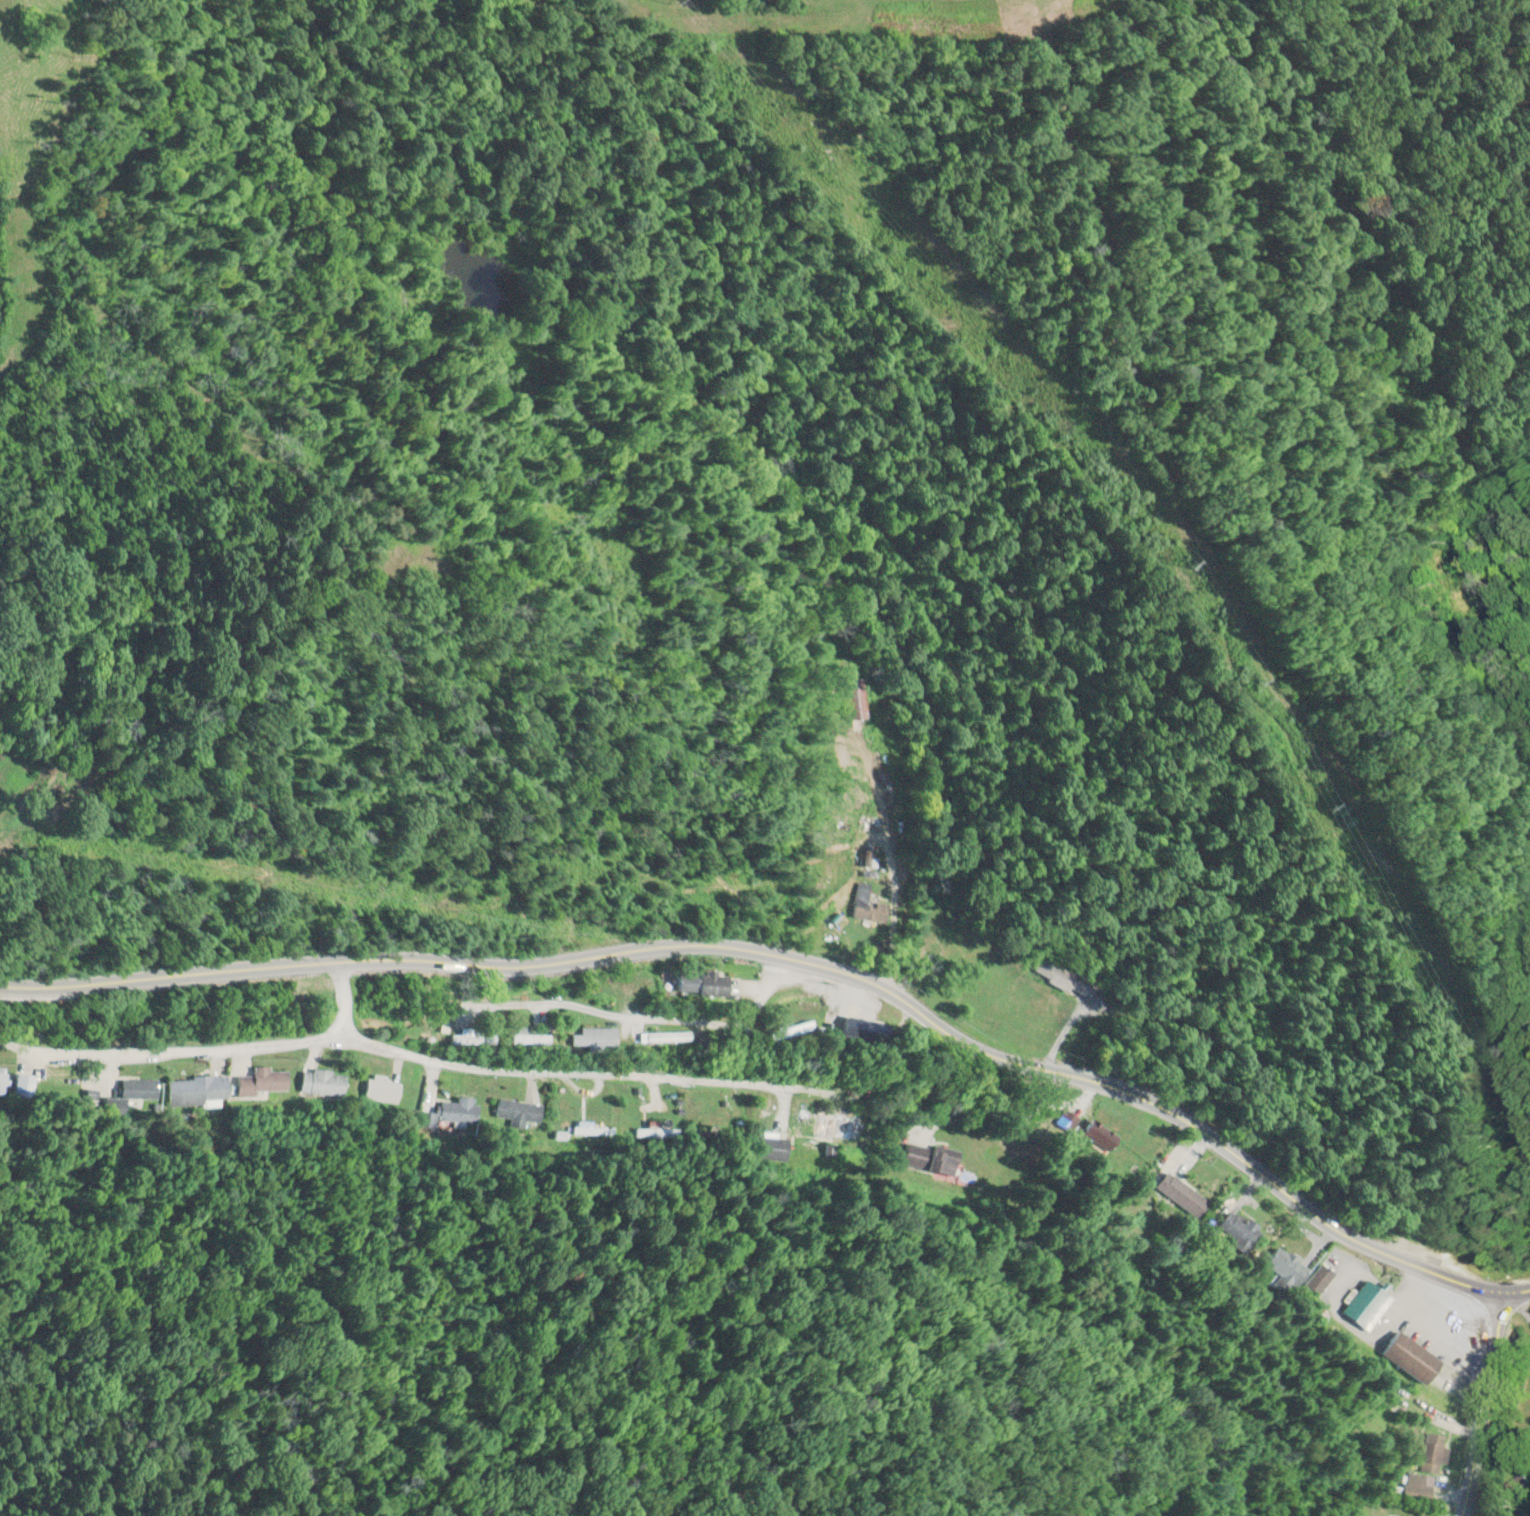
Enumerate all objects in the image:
power tower: (1184, 559)
power tower: (1252, 677)
building: (850, 698)
power tower: (1320, 803)
building: (865, 905)
road: (804, 962)
building: (700, 984)
road: (335, 999)
building: (808, 999)
building: (593, 1036)
building: (530, 1037)
building: (473, 1038)
road: (398, 1052)
building: (3, 1081)
building: (259, 1081)
building: (319, 1081)
building: (26, 1083)
building: (138, 1088)
building: (196, 1088)
building: (379, 1090)
building: (458, 1109)
building: (516, 1112)
building: (835, 1127)
building: (1094, 1133)
building: (774, 1148)
building: (1179, 1194)
building: (1236, 1229)
building: (1282, 1265)
building: (1316, 1280)
building: (1363, 1306)
building: (1407, 1357)
road: (1479, 1404)
building: (1427, 1452)
building: (1415, 1488)

